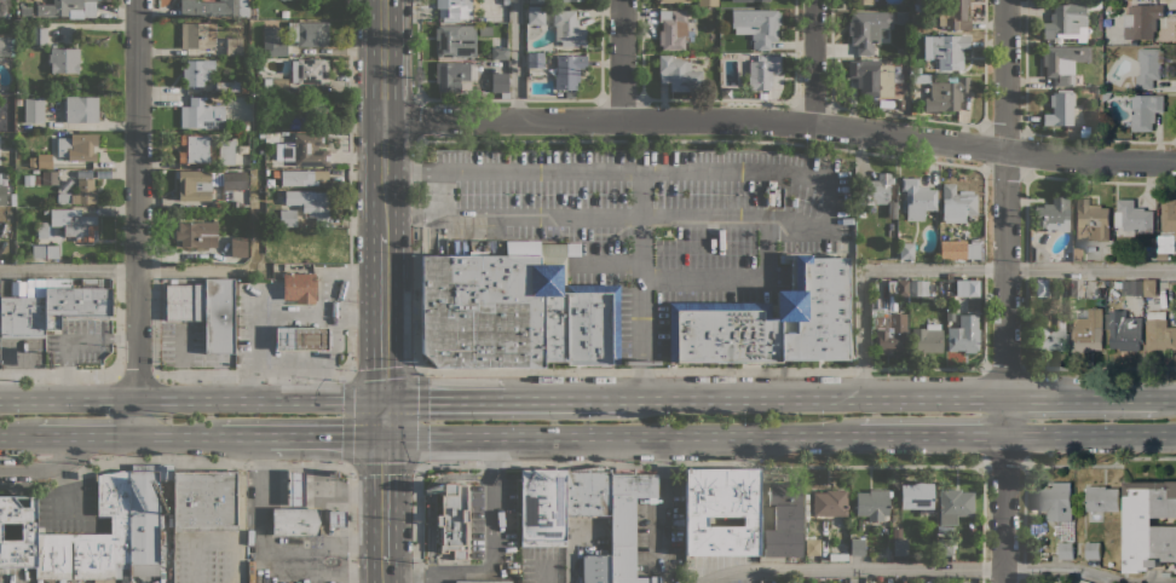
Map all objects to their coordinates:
building: (565, 0)
building: (671, 0)
building: (750, 0)
building: (536, 1)
building: (708, 2)
building: (861, 2)
building: (1095, 4)
building: (215, 7)
building: (450, 7)
building: (68, 8)
building: (25, 13)
building: (284, 13)
building: (536, 15)
building: (953, 15)
building: (901, 17)
building: (1065, 21)
building: (1141, 21)
building: (756, 25)
building: (915, 27)
building: (567, 28)
building: (673, 29)
building: (867, 29)
building: (312, 33)
building: (39, 34)
building: (197, 35)
building: (1109, 39)
building: (455, 40)
building: (275, 42)
building: (6, 46)
building: (234, 48)
road: (417, 50)
building: (946, 51)
building: (500, 53)
building: (738, 56)
building: (748, 56)
building: (63, 59)
road: (515, 59)
building: (535, 59)
road: (621, 59)
road: (813, 62)
building: (1063, 62)
building: (1148, 67)
building: (567, 70)
building: (912, 70)
building: (197, 71)
building: (309, 71)
building: (762, 71)
building: (454, 74)
building: (679, 74)
building: (871, 77)
building: (500, 82)
building: (227, 86)
building: (278, 86)
building: (35, 87)
building: (465, 87)
building: (244, 88)
building: (727, 91)
building: (944, 92)
building: (1106, 96)
building: (10, 98)
building: (19, 100)
building: (1060, 108)
building: (34, 109)
building: (80, 109)
building: (306, 109)
building: (1145, 111)
building: (201, 114)
road: (384, 117)
road: (415, 119)
road: (780, 120)
building: (277, 121)
building: (244, 126)
road: (636, 139)
building: (77, 146)
building: (194, 149)
building: (307, 150)
building: (226, 152)
building: (44, 161)
road: (720, 171)
building: (301, 177)
building: (46, 178)
building: (269, 180)
building: (207, 183)
building: (875, 189)
building: (85, 192)
road: (638, 194)
building: (2, 195)
building: (63, 198)
building: (917, 198)
building: (13, 201)
building: (310, 203)
building: (957, 203)
building: (45, 212)
building: (1050, 214)
building: (1169, 215)
road: (137, 217)
road: (581, 217)
building: (287, 218)
building: (1132, 218)
building: (1090, 221)
building: (74, 223)
building: (41, 230)
building: (195, 232)
building: (1153, 242)
building: (240, 246)
road: (766, 248)
building: (951, 249)
building: (905, 250)
building: (975, 250)
building: (46, 252)
building: (1039, 254)
building: (1077, 254)
building: (1163, 255)
building: (23, 256)
road: (604, 264)
road: (229, 269)
road: (953, 269)
road: (69, 270)
road: (346, 277)
road: (703, 279)
building: (298, 287)
building: (965, 287)
building: (1042, 287)
building: (1074, 287)
building: (897, 288)
building: (918, 288)
building: (1131, 288)
building: (1149, 288)
road: (1005, 291)
building: (1099, 293)
building: (75, 301)
building: (875, 304)
building: (514, 308)
building: (204, 310)
building: (814, 310)
road: (321, 313)
building: (950, 314)
building: (22, 317)
road: (384, 317)
building: (1124, 330)
building: (722, 331)
building: (1088, 331)
building: (889, 333)
building: (1159, 333)
road: (73, 336)
building: (1050, 337)
building: (301, 339)
building: (927, 339)
building: (962, 339)
road: (258, 341)
building: (640, 362)
road: (642, 362)
road: (1099, 366)
road: (1004, 368)
road: (586, 369)
road: (353, 375)
road: (642, 381)
road: (1080, 397)
road: (1166, 397)
road: (191, 398)
road: (565, 398)
road: (815, 398)
traffic signals: (384, 399)
road: (444, 399)
road: (384, 416)
road: (930, 433)
road: (1090, 433)
road: (5, 434)
road: (47, 434)
road: (111, 434)
road: (167, 434)
road: (232, 434)
road: (325, 434)
traffic signals: (384, 434)
road: (619, 434)
road: (173, 458)
road: (1003, 462)
road: (48, 464)
road: (642, 464)
road: (1099, 464)
building: (295, 487)
building: (588, 491)
building: (784, 493)
building: (916, 495)
road: (384, 498)
building: (1101, 498)
building: (1055, 500)
building: (204, 501)
building: (829, 502)
road: (492, 503)
building: (871, 503)
building: (952, 504)
building: (543, 507)
road: (241, 508)
building: (722, 510)
building: (145, 516)
building: (336, 518)
building: (452, 520)
building: (295, 521)
road: (350, 524)
building: (627, 524)
building: (1149, 525)
building: (27, 529)
building: (797, 530)
building: (767, 535)
building: (91, 539)
road: (197, 541)
building: (857, 546)
road: (322, 547)
building: (812, 547)
building: (899, 547)
building: (944, 547)
road: (570, 549)
building: (1065, 550)
building: (1093, 550)
building: (837, 556)
road: (267, 558)
road: (457, 567)
road: (848, 567)
road: (1062, 567)
building: (595, 568)
road: (384, 573)
building: (1166, 575)
building: (767, 581)
road: (413, 582)
building: (483, 582)
building: (963, 582)
building: (1034, 582)
building: (1043, 582)

